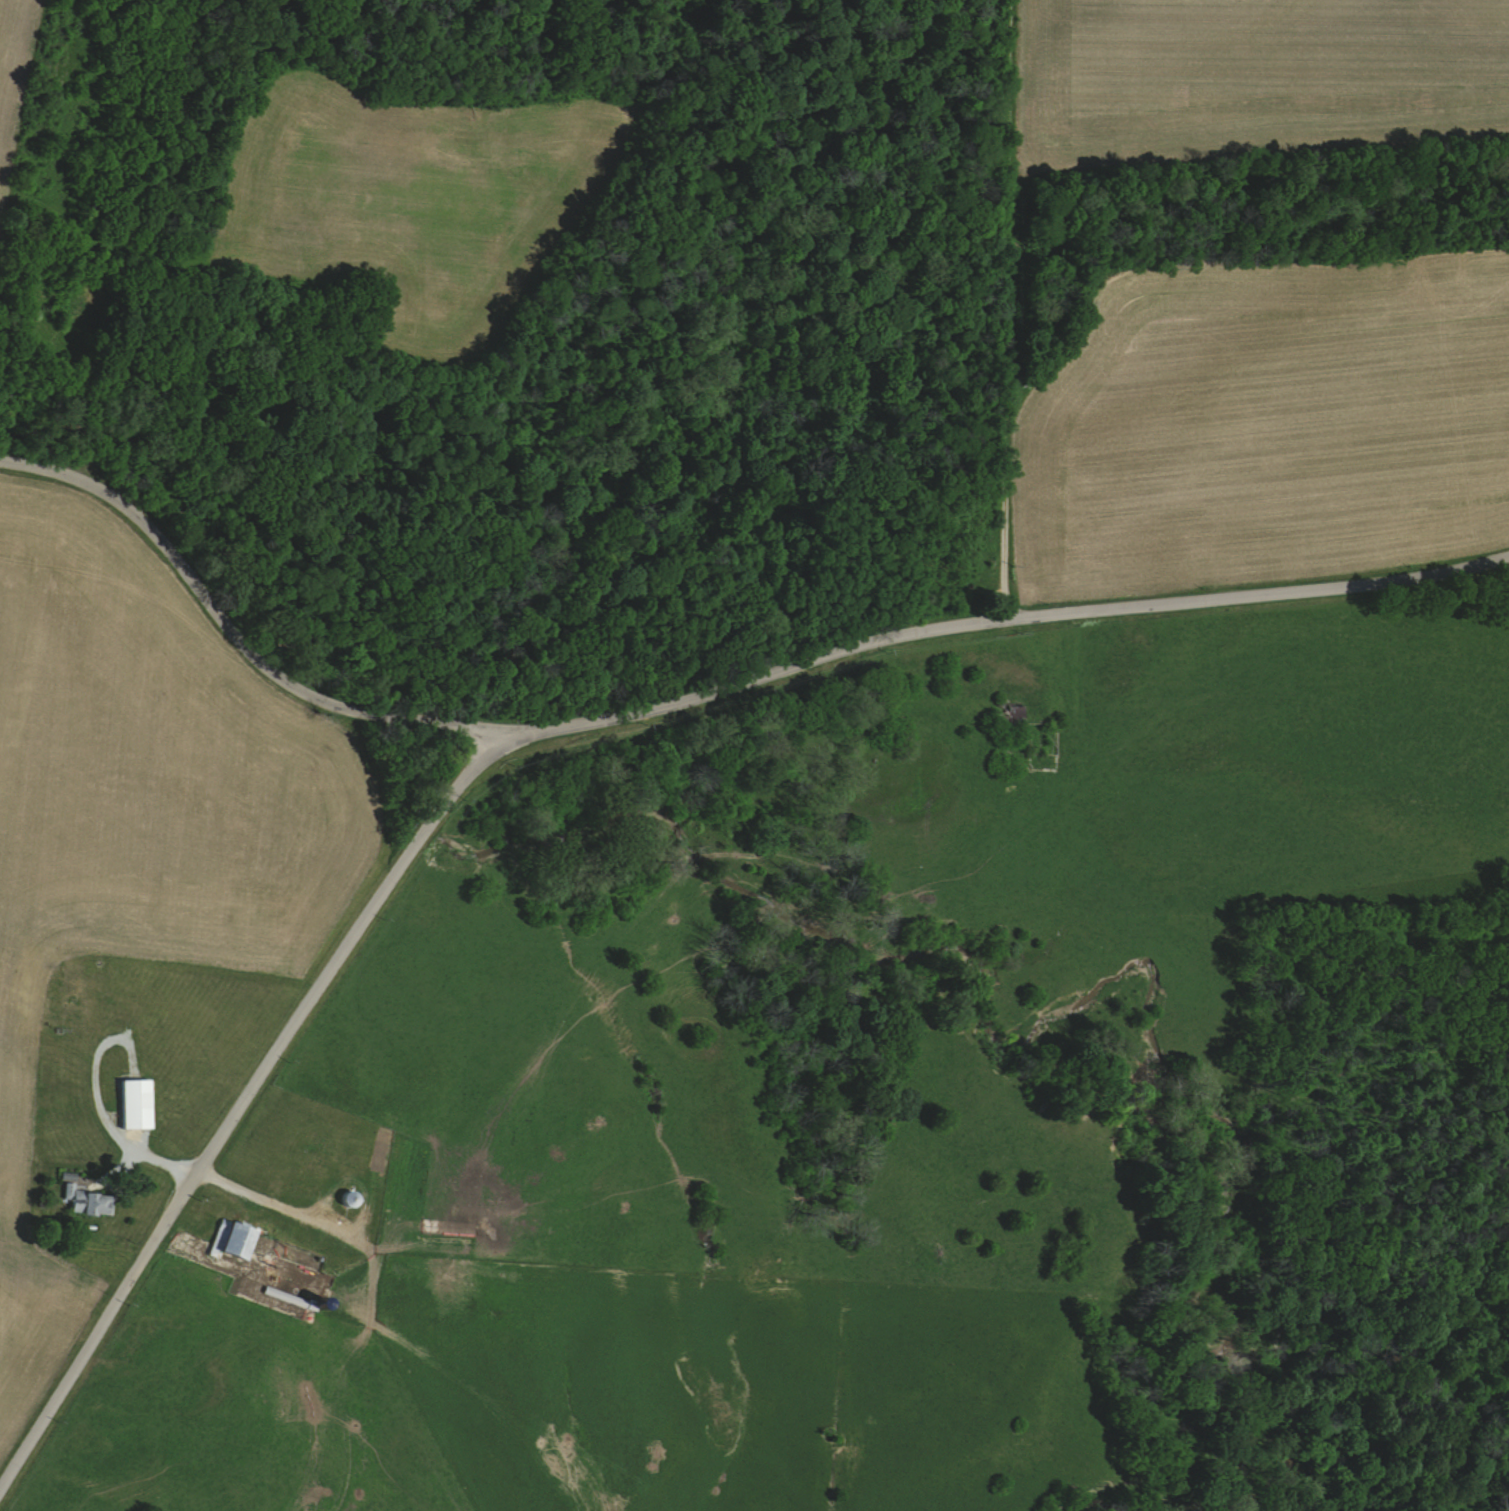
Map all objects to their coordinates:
road: (1001, 309)
road: (234, 637)
road: (561, 726)
building: (139, 1104)
road: (110, 1126)
road: (261, 1198)
building: (88, 1199)
building: (236, 1240)

